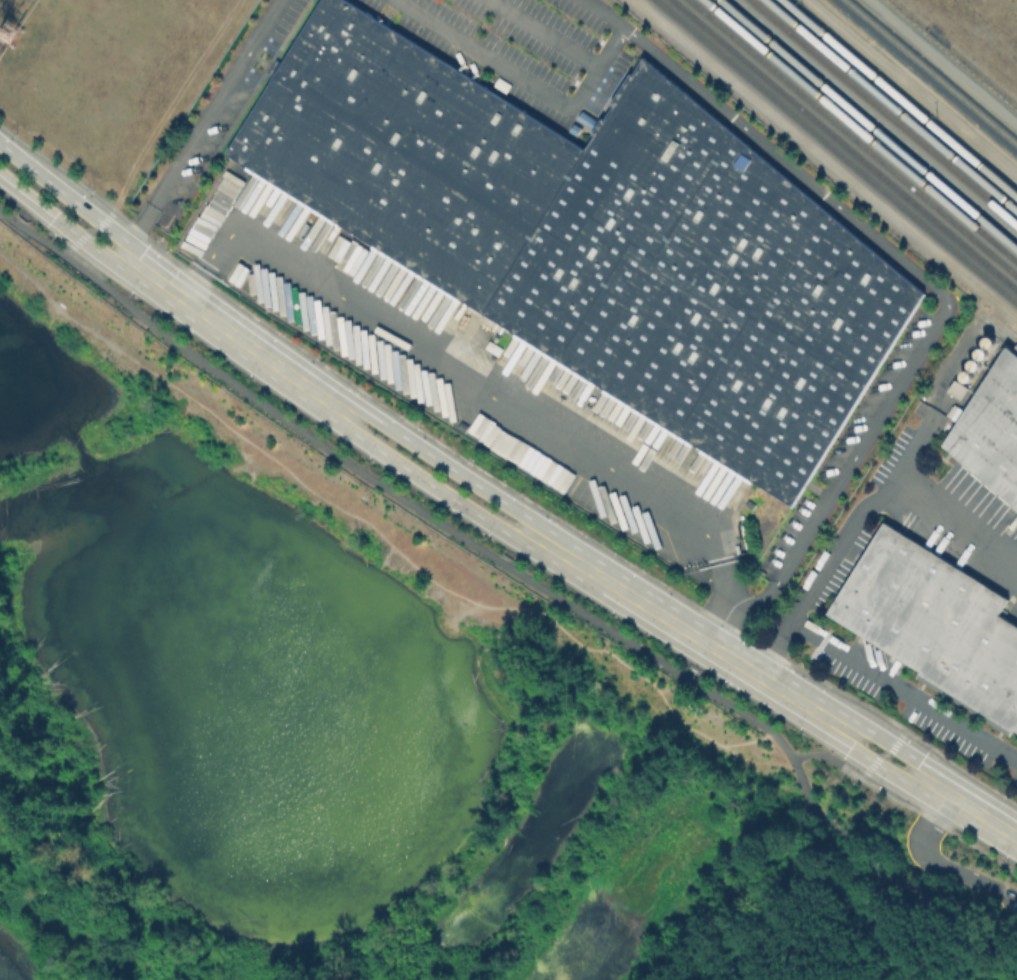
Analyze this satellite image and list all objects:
road: (604, 13)
road: (269, 21)
power tower: (8, 31)
road: (543, 34)
railway: (928, 74)
road: (526, 84)
railway: (898, 98)
road: (171, 101)
railway: (890, 106)
railway: (882, 113)
railway: (867, 125)
railway: (859, 131)
railway: (850, 139)
railway: (842, 146)
road: (187, 149)
railway: (834, 153)
road: (824, 158)
road: (71, 198)
road: (63, 225)
road: (90, 231)
building: (598, 241)
road: (200, 283)
road: (946, 298)
railway: (1000, 333)
road: (235, 336)
road: (471, 378)
building: (989, 429)
road: (443, 462)
road: (430, 484)
building: (751, 505)
road: (956, 527)
road: (842, 542)
road: (517, 572)
road: (712, 600)
building: (932, 625)
road: (692, 633)
road: (906, 690)
road: (891, 743)
road: (884, 754)
road: (830, 756)
road: (877, 764)
road: (960, 770)
road: (967, 805)
road: (940, 824)
road: (936, 865)
road: (800, 927)

